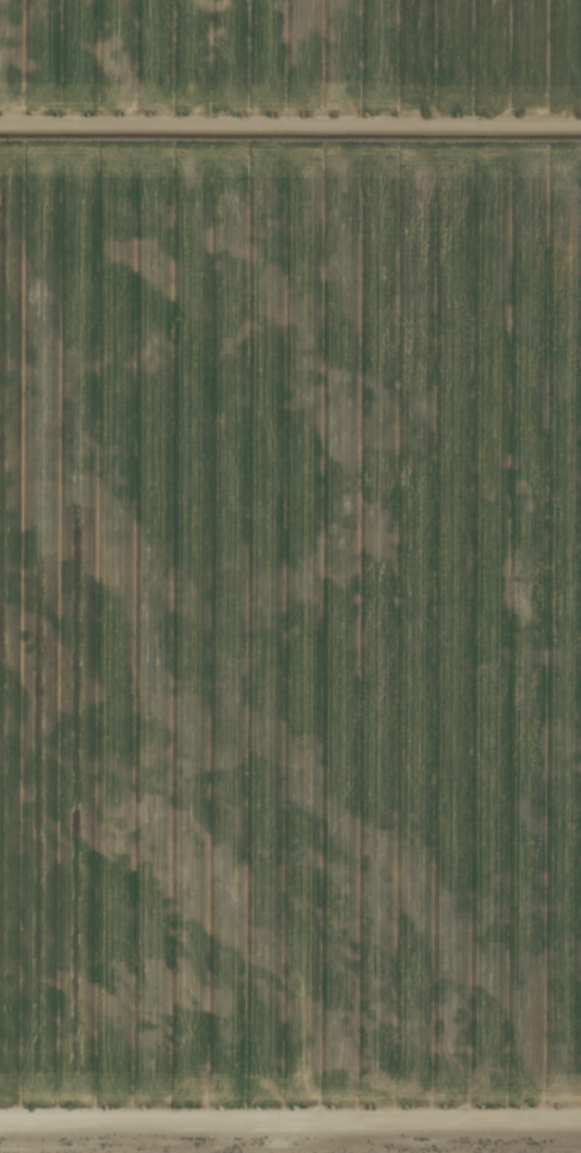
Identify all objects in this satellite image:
road: (290, 122)

